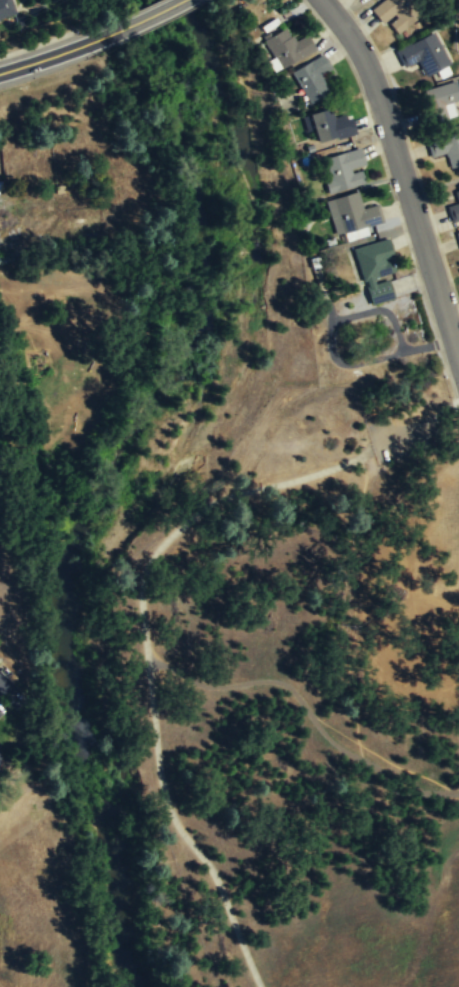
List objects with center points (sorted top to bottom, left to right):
river: (189, 4)
building: (6, 9)
building: (395, 13)
road: (145, 18)
building: (285, 49)
building: (423, 55)
road: (53, 56)
building: (312, 80)
building: (442, 103)
building: (328, 127)
building: (445, 148)
road: (405, 162)
building: (343, 171)
building: (454, 205)
building: (351, 215)
building: (458, 242)
building: (375, 272)
parking lot: (419, 428)
road: (415, 429)
river: (94, 503)
road: (148, 657)
road: (313, 713)

